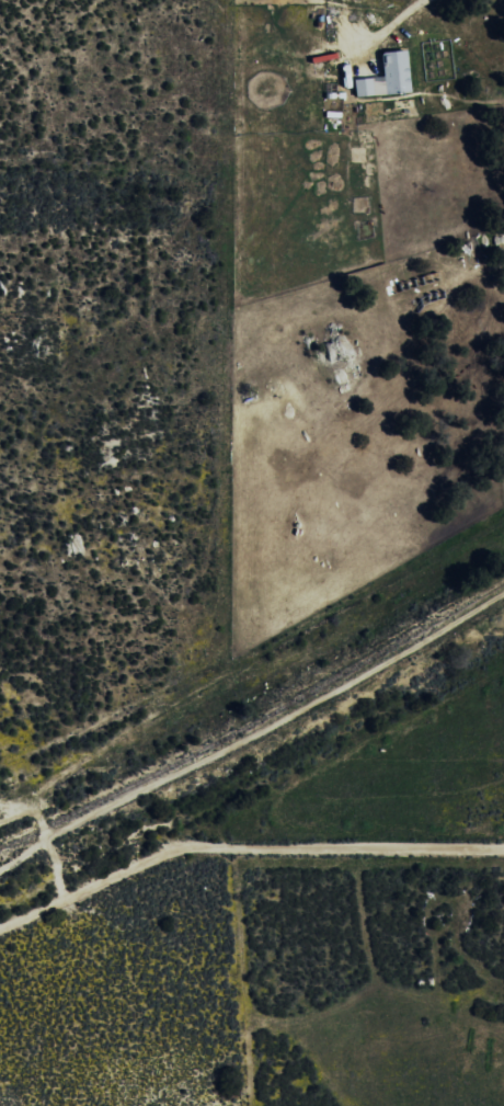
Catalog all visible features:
building: (383, 77)
railway: (254, 718)
road: (243, 850)

